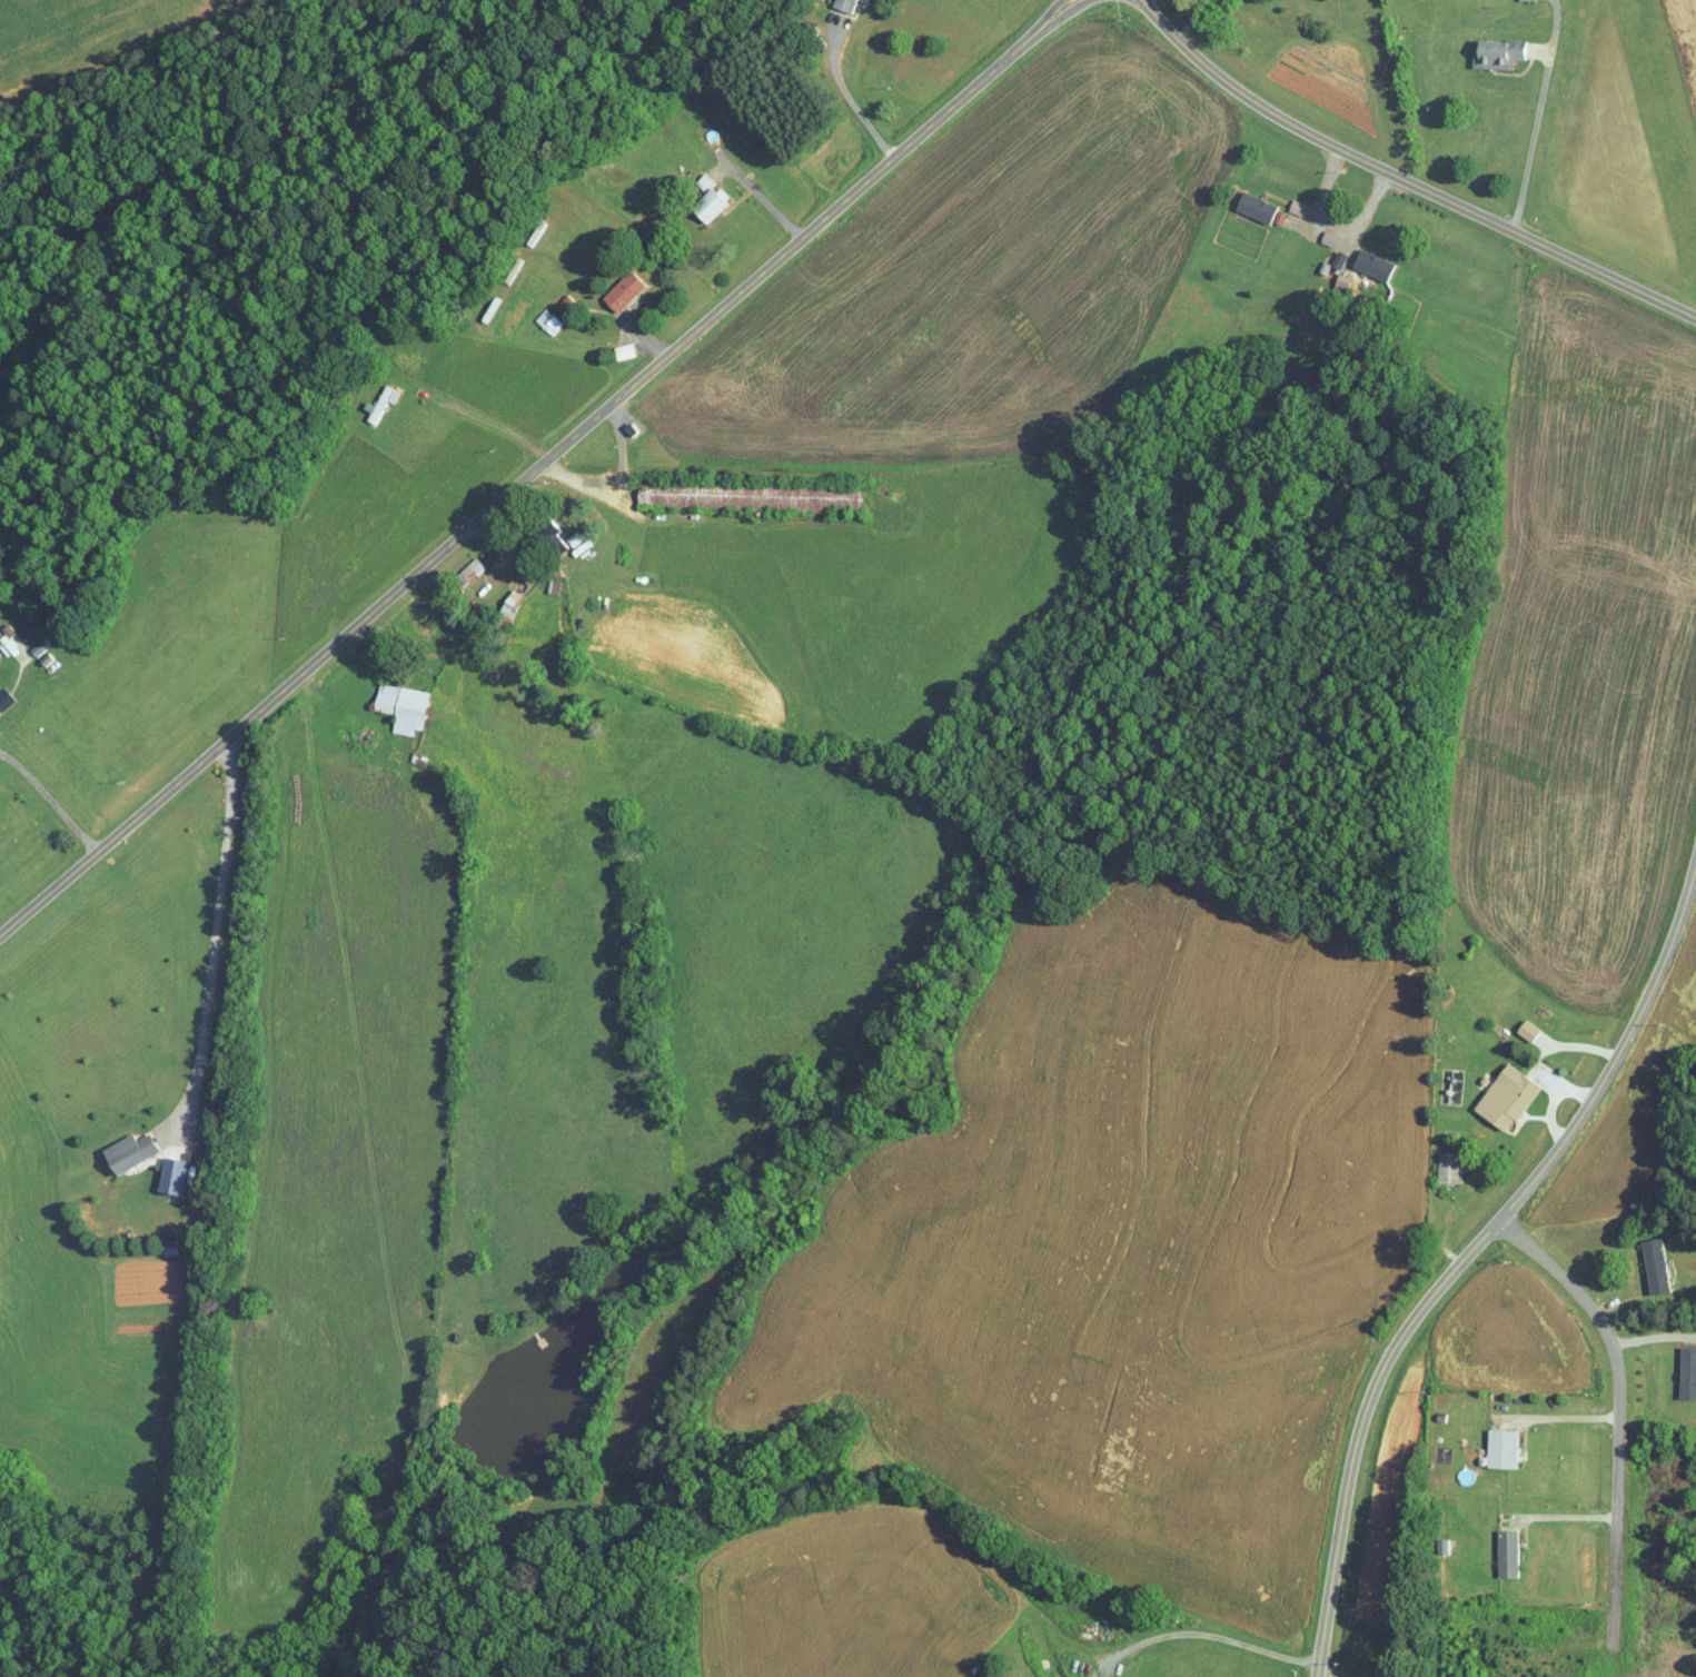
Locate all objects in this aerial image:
building: (843, 6)
building: (1496, 54)
road: (850, 105)
airport runway: (1667, 108)
road: (1531, 142)
road: (1400, 185)
building: (708, 205)
building: (1257, 207)
building: (1296, 207)
road: (1327, 222)
building: (1328, 238)
building: (1338, 259)
building: (1373, 265)
building: (1340, 285)
building: (623, 290)
building: (547, 321)
road: (485, 419)
road: (532, 467)
building: (664, 496)
building: (468, 572)
building: (510, 603)
road: (182, 606)
building: (20, 636)
building: (37, 647)
building: (401, 706)
road: (50, 797)
road: (214, 929)
building: (1527, 1029)
building: (1506, 1095)
building: (129, 1150)
building: (1448, 1165)
building: (171, 1173)
building: (168, 1246)
building: (1656, 1264)
road: (1465, 1270)
road: (1655, 1348)
building: (1687, 1371)
road: (1566, 1425)
road: (1625, 1428)
building: (1501, 1447)
road: (1569, 1525)
building: (1508, 1551)
road: (1221, 1637)
building: (1062, 1676)

